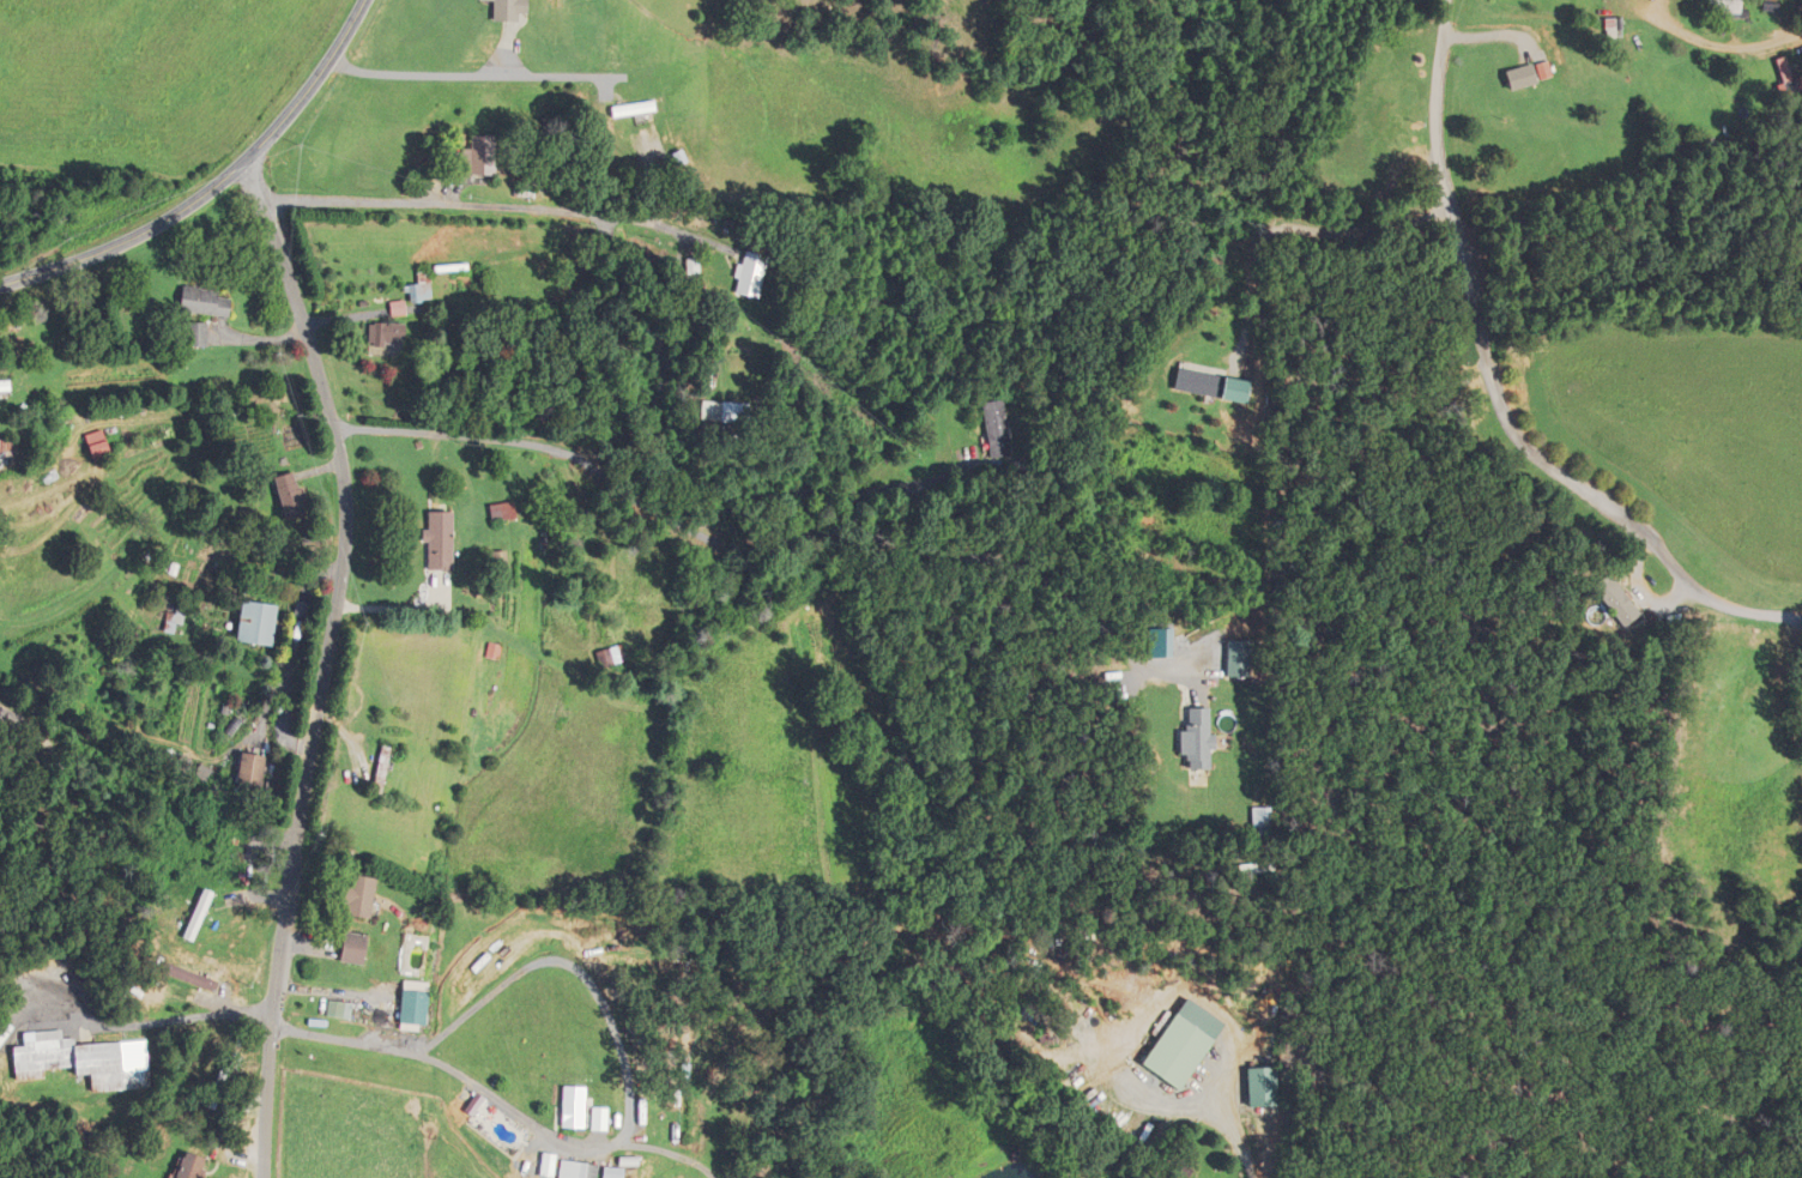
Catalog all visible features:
building: (1724, 6)
building: (508, 10)
road: (1768, 43)
road: (473, 74)
road: (1440, 75)
building: (1791, 75)
building: (1520, 77)
building: (634, 109)
building: (477, 156)
road: (219, 191)
building: (696, 266)
building: (752, 273)
building: (422, 288)
building: (207, 303)
road: (648, 327)
building: (381, 334)
building: (1215, 386)
building: (6, 388)
building: (730, 413)
building: (1004, 429)
building: (98, 445)
building: (8, 447)
road: (1536, 455)
building: (291, 499)
building: (435, 540)
road: (776, 542)
building: (494, 560)
building: (1614, 599)
building: (173, 623)
building: (262, 624)
road: (327, 665)
building: (1195, 738)
building: (260, 773)
road: (61, 777)
building: (362, 898)
building: (201, 916)
building: (357, 949)
building: (419, 1007)
road: (146, 1025)
building: (1187, 1043)
building: (87, 1061)
building: (218, 1088)
road: (502, 1101)
building: (563, 1107)
road: (1229, 1118)
building: (199, 1167)
building: (574, 1171)
building: (605, 1173)
building: (1187, 1173)

